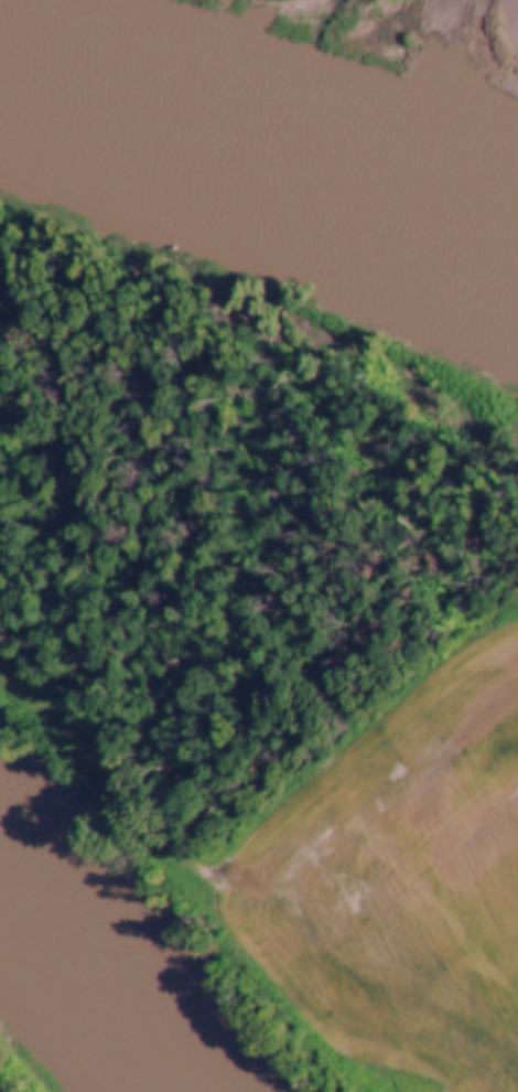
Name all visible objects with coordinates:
river: (259, 191)
road: (122, 799)
river: (83, 1011)

